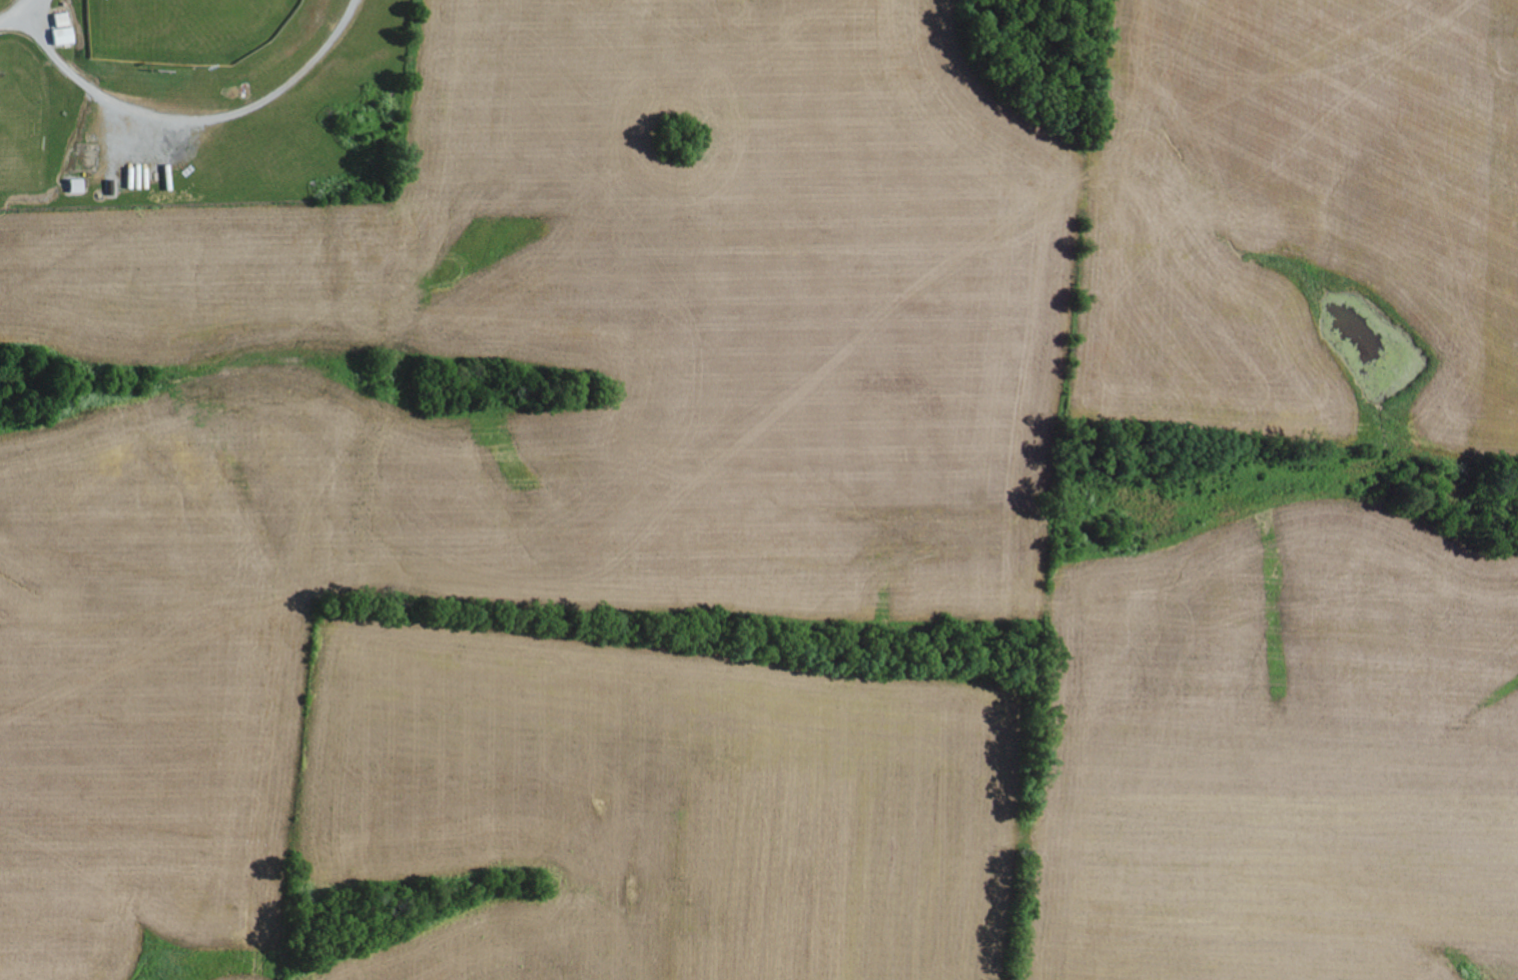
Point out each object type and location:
building: (62, 17)

